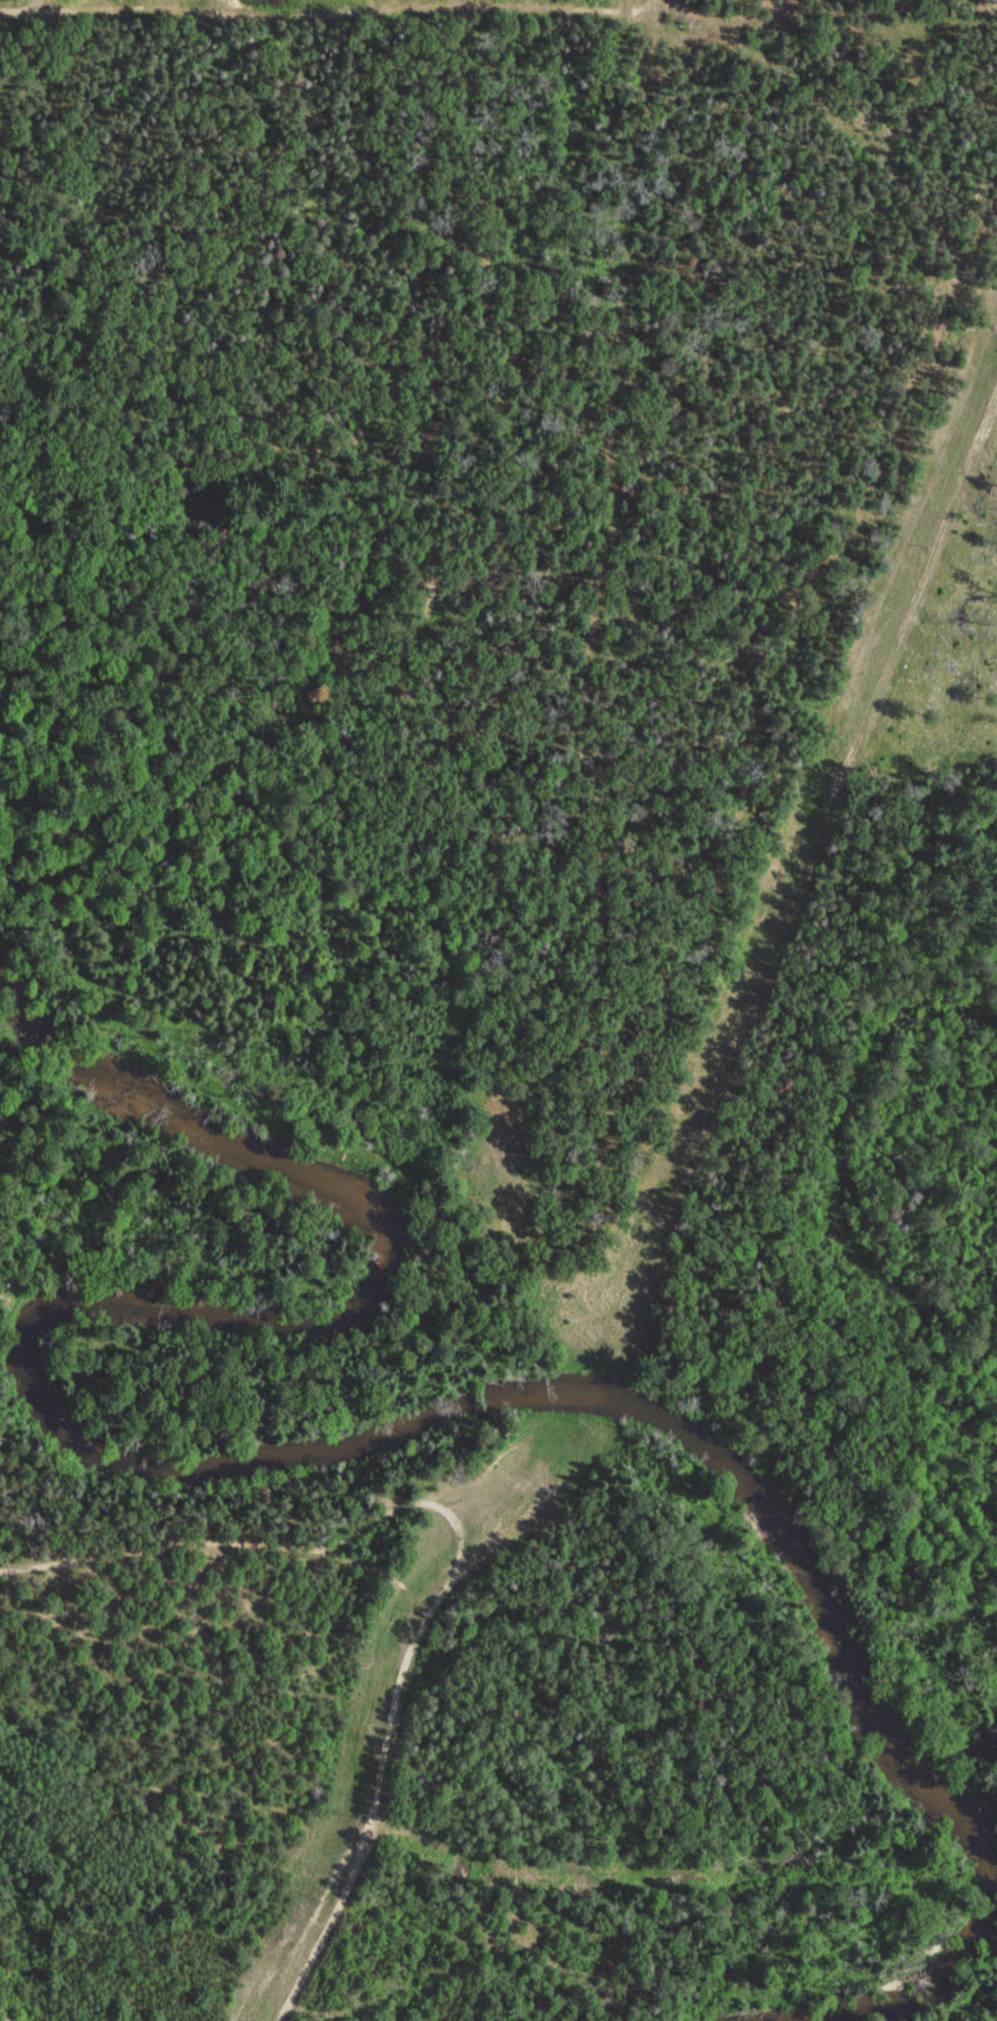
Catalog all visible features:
road: (666, 1)
road: (332, 4)
river: (268, 1461)
road: (237, 1541)
road: (374, 1780)

